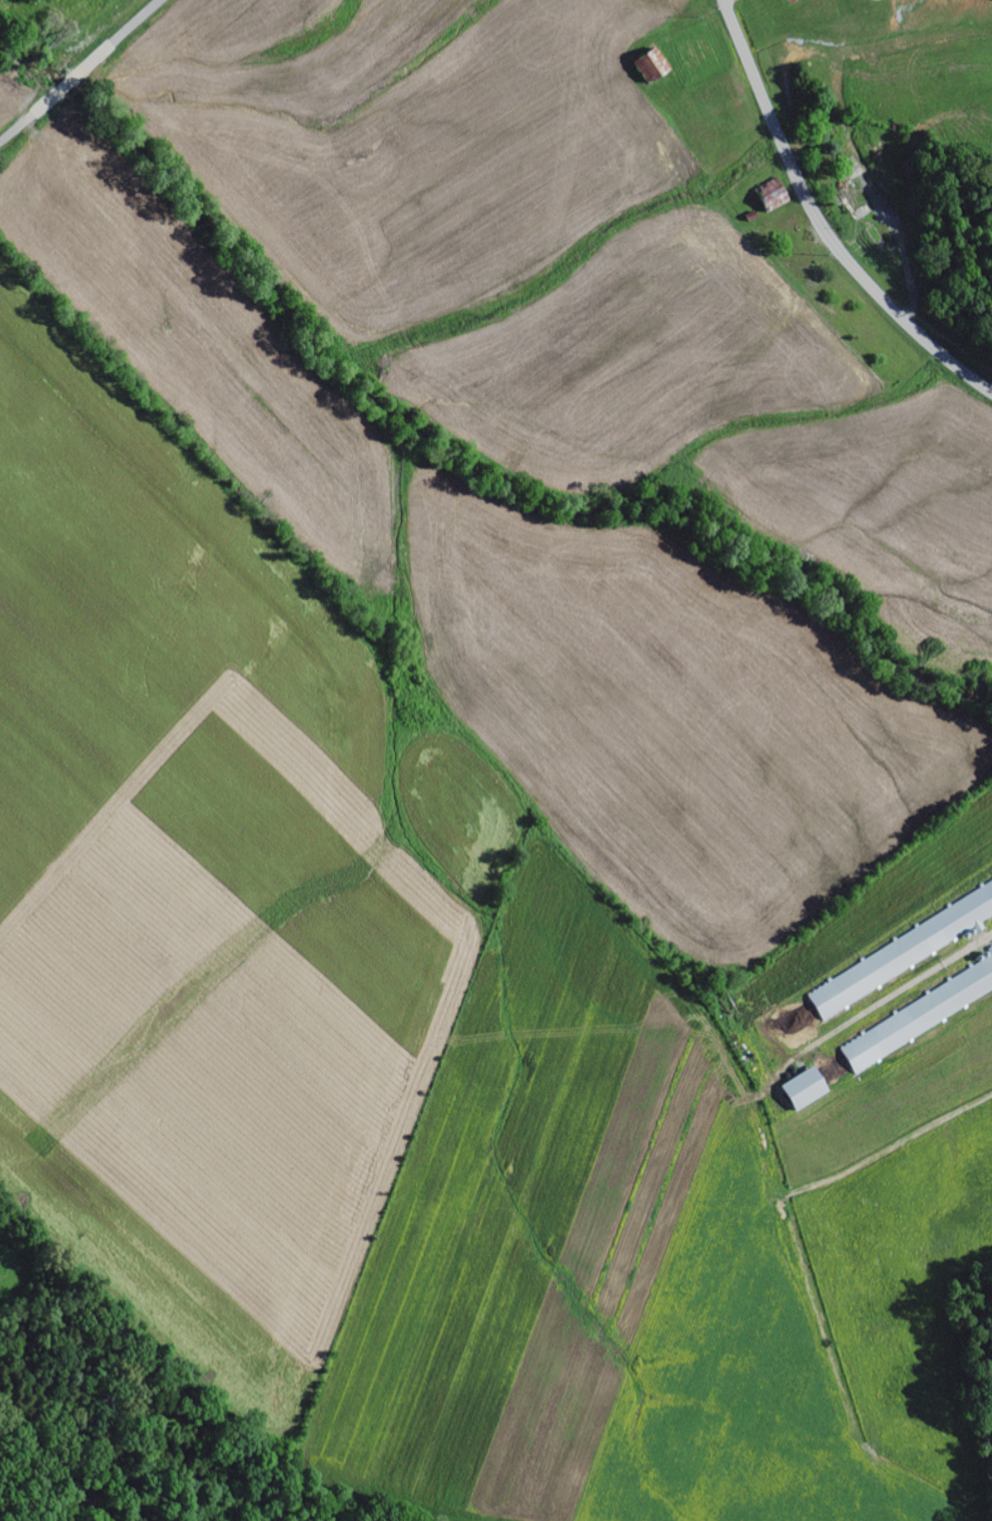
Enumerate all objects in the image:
building: (652, 65)
road: (82, 72)
building: (775, 201)
road: (821, 221)
building: (990, 951)
building: (901, 954)
building: (918, 1016)
building: (805, 1090)

